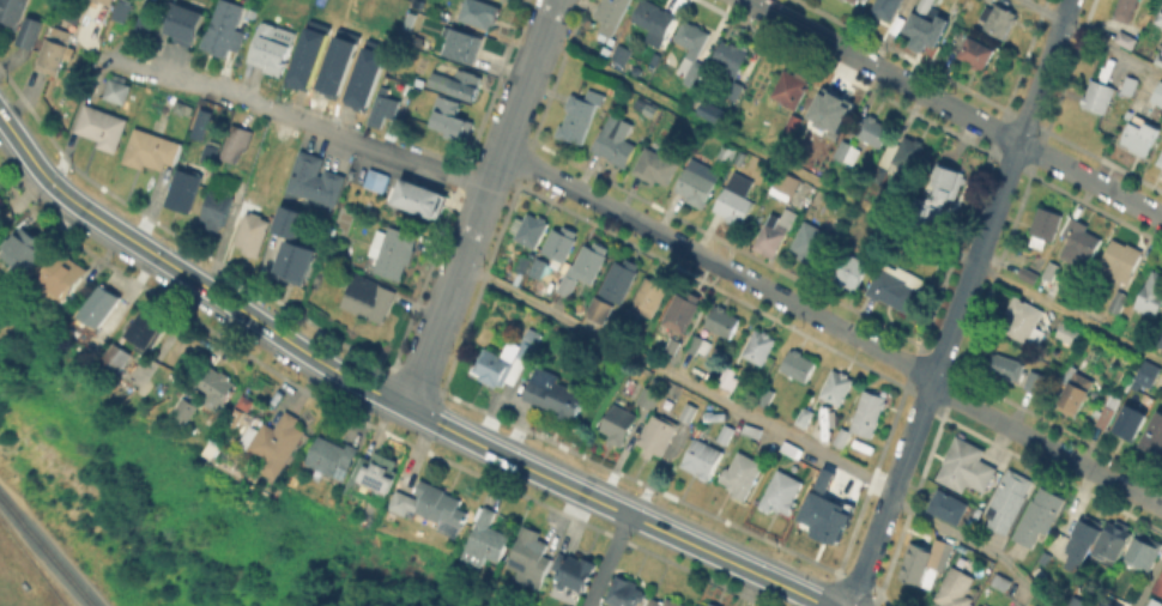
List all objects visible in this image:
building: (105, 1)
building: (852, 1)
building: (890, 8)
building: (122, 10)
building: (1126, 10)
building: (13, 11)
building: (482, 13)
building: (611, 14)
building: (1160, 18)
building: (650, 19)
building: (999, 20)
building: (146, 22)
building: (188, 22)
building: (928, 23)
building: (225, 29)
building: (30, 32)
road: (1093, 36)
building: (1126, 40)
building: (465, 46)
building: (272, 48)
building: (56, 50)
building: (692, 51)
building: (618, 53)
building: (307, 54)
building: (976, 54)
building: (732, 56)
building: (1160, 59)
building: (337, 61)
building: (364, 73)
building: (459, 83)
building: (1130, 85)
building: (792, 87)
building: (117, 91)
building: (734, 91)
building: (1099, 96)
building: (1158, 96)
building: (181, 105)
building: (392, 105)
building: (834, 108)
road: (954, 108)
building: (709, 110)
building: (580, 115)
building: (714, 117)
building: (453, 119)
building: (198, 122)
road: (299, 122)
building: (795, 122)
building: (103, 127)
building: (874, 132)
building: (1142, 135)
building: (617, 141)
building: (232, 143)
building: (843, 150)
building: (152, 151)
building: (211, 153)
building: (725, 153)
building: (903, 156)
building: (1161, 160)
building: (656, 166)
building: (373, 178)
building: (316, 180)
building: (948, 180)
building: (785, 184)
building: (696, 187)
building: (184, 190)
building: (419, 198)
building: (736, 200)
road: (851, 200)
building: (2, 201)
road: (480, 204)
building: (214, 205)
building: (925, 211)
building: (288, 220)
building: (1047, 224)
building: (531, 229)
building: (776, 232)
building: (254, 234)
building: (1081, 241)
building: (813, 243)
building: (561, 244)
building: (31, 248)
building: (394, 252)
building: (293, 259)
building: (1120, 260)
building: (587, 266)
building: (1052, 271)
building: (67, 273)
building: (853, 273)
building: (1030, 275)
building: (621, 279)
building: (897, 286)
building: (1151, 295)
building: (369, 299)
building: (648, 299)
building: (1119, 302)
road: (960, 303)
building: (99, 308)
building: (600, 309)
building: (683, 313)
building: (722, 321)
building: (1024, 321)
road: (834, 325)
building: (147, 332)
building: (1069, 334)
building: (698, 344)
building: (676, 346)
building: (762, 346)
building: (116, 360)
building: (507, 362)
building: (799, 365)
building: (1006, 366)
building: (1149, 374)
building: (728, 376)
building: (1035, 381)
building: (837, 388)
building: (218, 389)
building: (1075, 390)
building: (556, 394)
road: (386, 396)
building: (767, 396)
building: (649, 398)
building: (243, 400)
building: (187, 408)
building: (1109, 408)
building: (689, 412)
building: (869, 413)
building: (806, 416)
road: (764, 422)
building: (1131, 423)
building: (619, 424)
building: (752, 430)
building: (726, 434)
building: (658, 435)
building: (1154, 435)
building: (843, 437)
building: (274, 443)
building: (793, 449)
building: (332, 457)
building: (702, 459)
building: (968, 468)
building: (743, 474)
building: (371, 477)
building: (782, 493)
building: (1009, 501)
building: (432, 507)
building: (948, 507)
building: (823, 511)
building: (1040, 515)
building: (1084, 538)
building: (486, 540)
road: (52, 541)
building: (1114, 543)
railway: (46, 551)
building: (1144, 552)
building: (531, 557)
road: (606, 559)
building: (926, 562)
building: (574, 572)
building: (1003, 581)
road: (1148, 581)
building: (1160, 583)
building: (956, 588)
building: (625, 593)
building: (1075, 601)
building: (664, 602)
building: (701, 604)
building: (1104, 604)
building: (713, 605)

